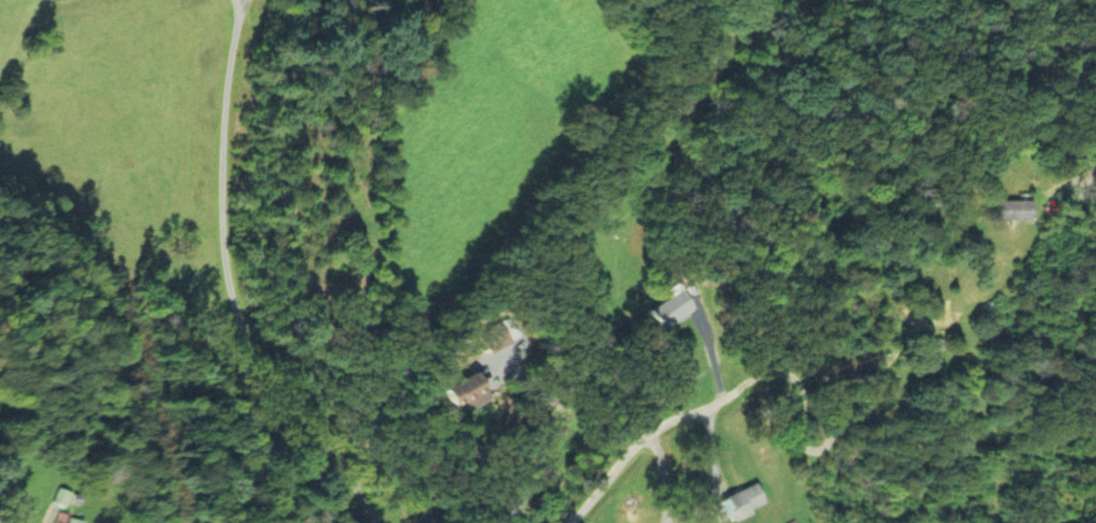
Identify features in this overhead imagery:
road: (243, 14)
building: (1013, 209)
road: (229, 280)
building: (672, 307)
road: (711, 352)
building: (460, 388)
road: (646, 437)
road: (832, 437)
road: (541, 443)
road: (710, 444)
road: (662, 478)
building: (61, 496)
building: (739, 502)
building: (74, 520)

